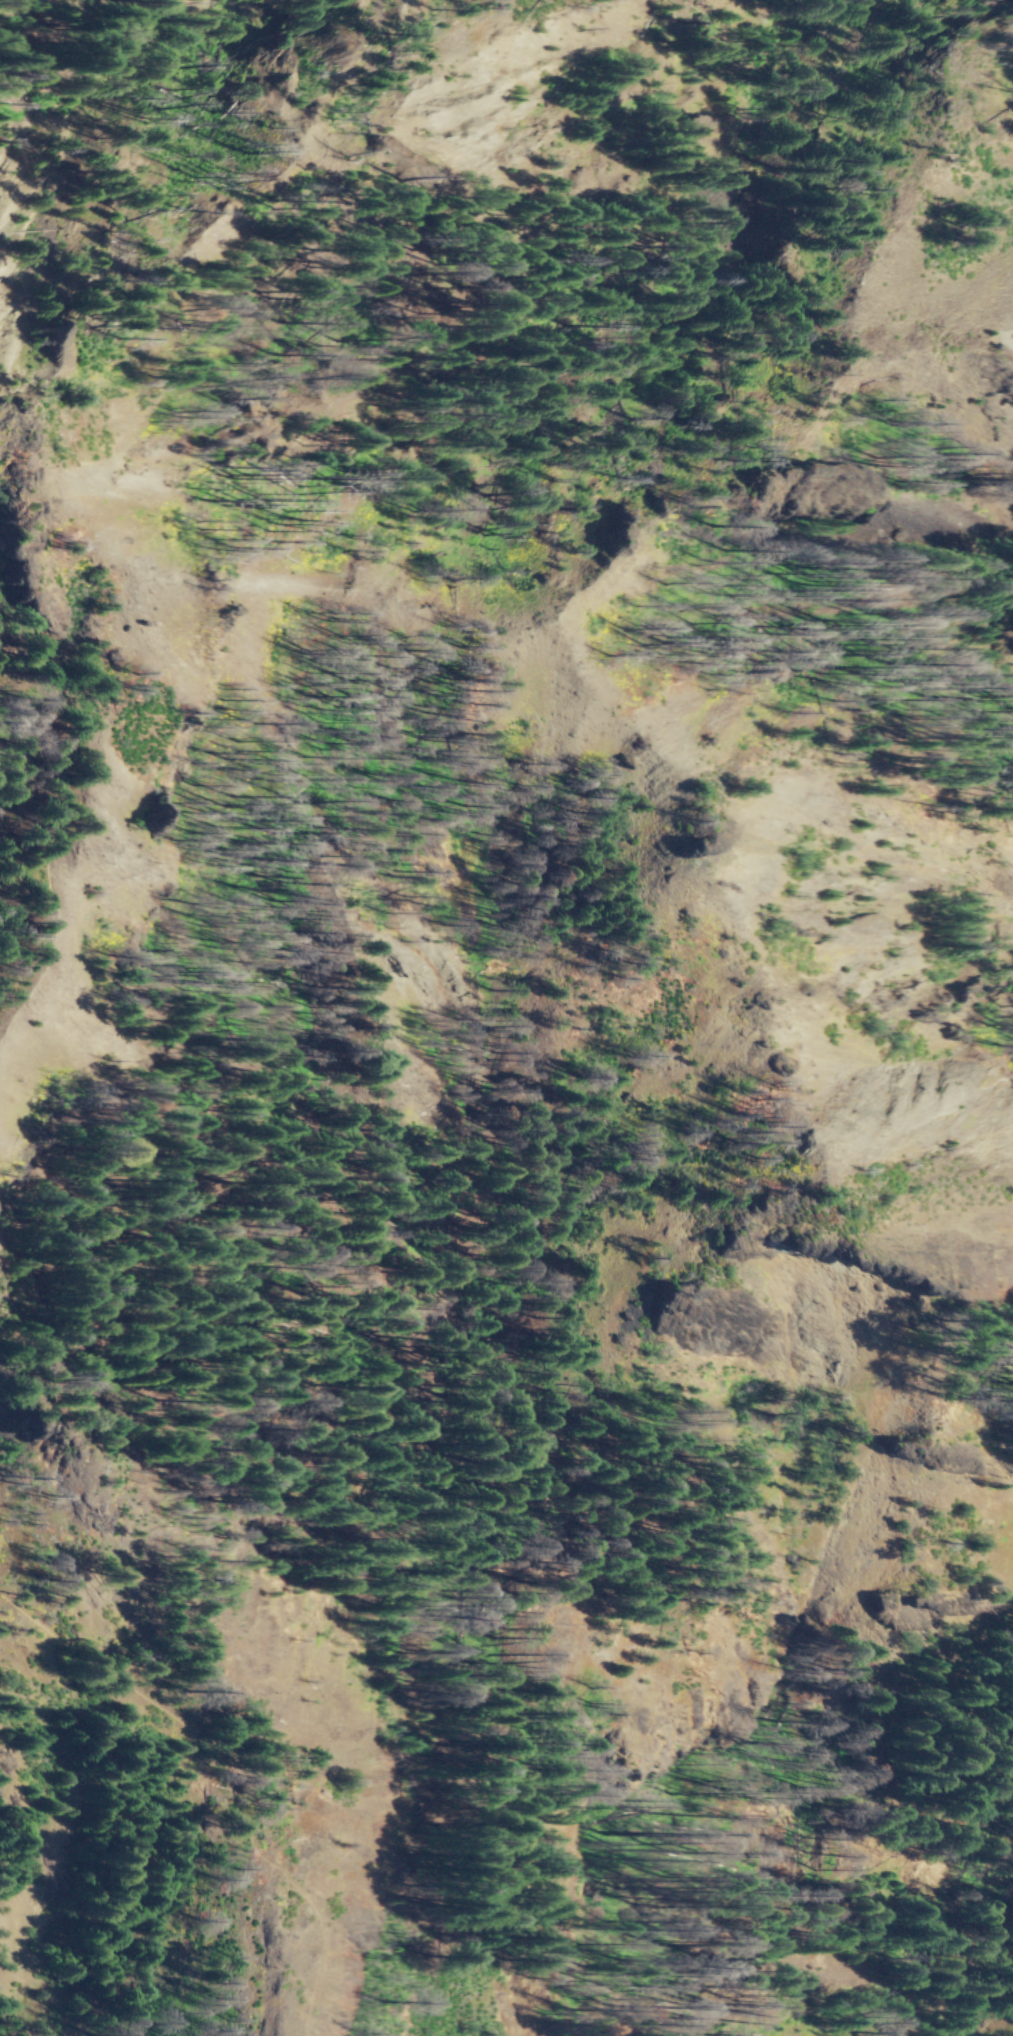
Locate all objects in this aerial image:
road: (50, 841)
road: (221, 1777)

